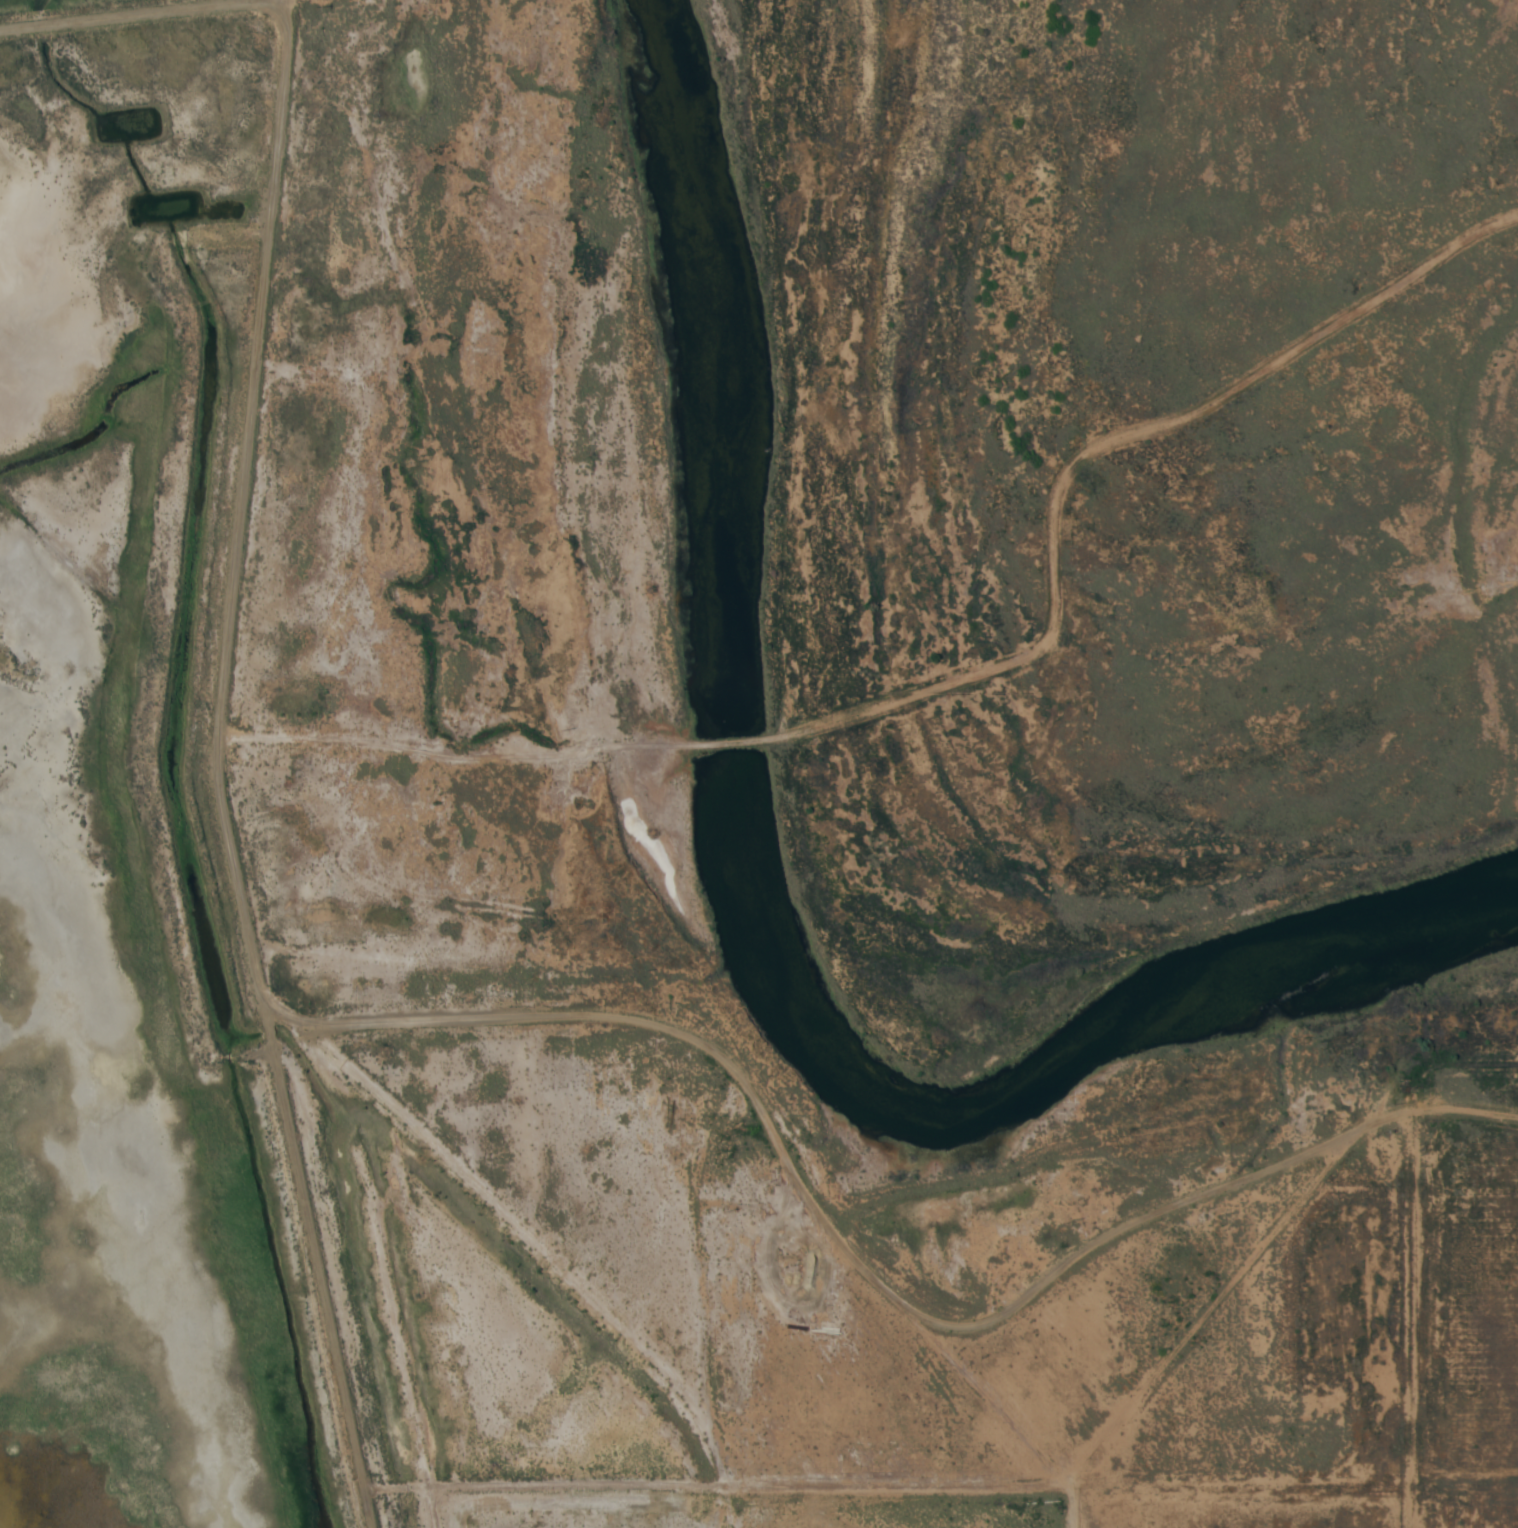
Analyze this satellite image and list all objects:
road: (147, 32)
road: (255, 770)

